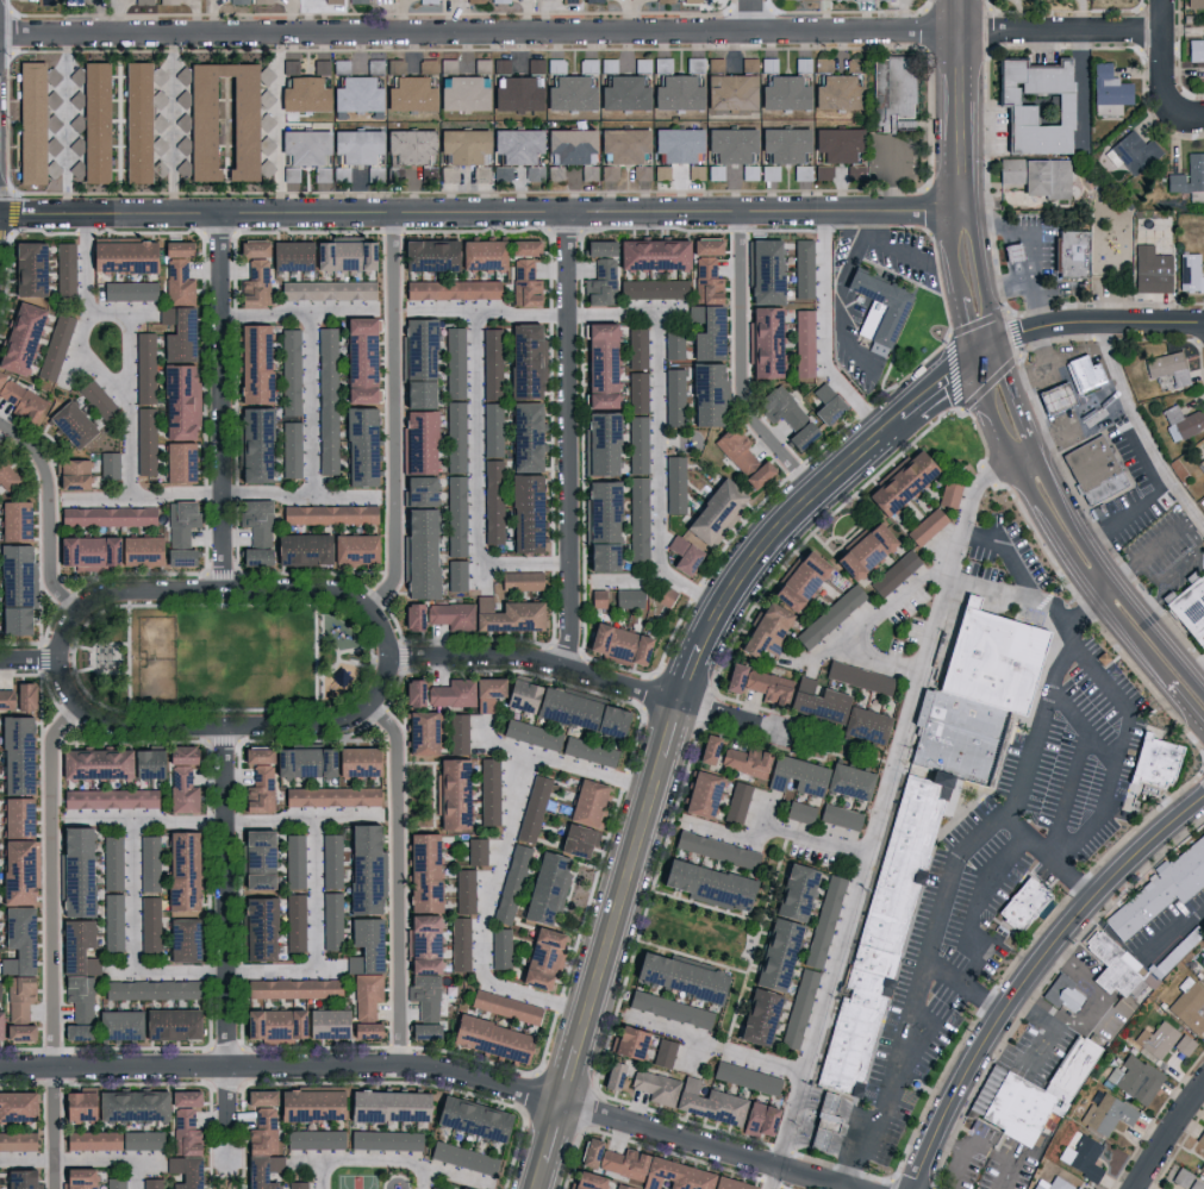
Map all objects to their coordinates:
building: (665, 0)
building: (691, 0)
building: (860, 0)
building: (73, 1)
building: (142, 1)
building: (168, 1)
building: (237, 1)
building: (262, 1)
building: (357, 1)
building: (428, 1)
building: (476, 1)
building: (501, 1)
building: (569, 1)
building: (1194, 4)
road: (754, 14)
road: (581, 30)
building: (1196, 50)
building: (767, 63)
building: (801, 63)
building: (822, 63)
building: (481, 64)
building: (500, 64)
building: (641, 64)
building: (661, 64)
building: (694, 64)
building: (715, 64)
building: (748, 64)
road: (1164, 64)
building: (339, 65)
building: (374, 65)
building: (394, 65)
building: (426, 65)
building: (447, 65)
building: (554, 65)
building: (586, 65)
building: (289, 67)
building: (320, 67)
building: (51, 75)
building: (156, 75)
building: (729, 90)
building: (1108, 90)
building: (461, 93)
building: (568, 93)
building: (622, 93)
building: (674, 93)
building: (781, 93)
building: (836, 93)
building: (302, 94)
building: (354, 94)
building: (407, 94)
building: (514, 94)
building: (51, 99)
building: (897, 99)
road: (961, 104)
building: (1035, 105)
road: (1194, 117)
building: (213, 118)
building: (92, 119)
building: (27, 121)
road: (65, 121)
building: (135, 121)
road: (173, 121)
building: (193, 121)
building: (158, 144)
building: (407, 144)
building: (623, 144)
building: (675, 144)
building: (729, 144)
building: (782, 144)
building: (836, 144)
building: (49, 145)
building: (354, 145)
building: (514, 145)
building: (569, 145)
building: (301, 146)
building: (461, 146)
building: (1134, 151)
parking lot: (897, 161)
building: (266, 169)
building: (748, 171)
building: (801, 171)
building: (823, 171)
building: (447, 173)
building: (501, 173)
building: (534, 173)
building: (554, 173)
building: (588, 173)
building: (609, 173)
building: (768, 173)
building: (291, 174)
building: (1189, 177)
road: (896, 179)
building: (1038, 187)
road: (480, 211)
road: (857, 221)
road: (1025, 232)
road: (953, 236)
building: (703, 246)
road: (975, 246)
building: (522, 248)
building: (597, 248)
building: (173, 249)
building: (250, 249)
building: (1011, 252)
building: (426, 255)
building: (480, 255)
building: (651, 255)
building: (120, 256)
building: (320, 256)
road: (849, 257)
building: (1078, 262)
building: (26, 268)
building: (64, 268)
building: (803, 268)
building: (1150, 270)
building: (762, 271)
building: (1190, 273)
road: (959, 279)
building: (705, 281)
building: (175, 282)
building: (523, 283)
building: (600, 283)
road: (1009, 283)
building: (254, 284)
building: (450, 289)
building: (653, 289)
building: (126, 290)
building: (326, 290)
road: (1037, 302)
building: (890, 311)
road: (123, 312)
road: (348, 313)
road: (480, 313)
road: (86, 317)
road: (990, 319)
road: (1122, 321)
road: (1040, 325)
road: (967, 326)
building: (705, 332)
building: (174, 333)
road: (1015, 333)
road: (824, 334)
building: (18, 337)
building: (763, 342)
building: (803, 343)
road: (1043, 343)
building: (673, 345)
building: (54, 346)
building: (417, 349)
building: (636, 349)
road: (1080, 349)
road: (987, 356)
building: (357, 361)
building: (523, 361)
building: (454, 362)
building: (491, 363)
road: (1003, 363)
building: (251, 364)
building: (598, 365)
building: (144, 367)
road: (743, 367)
building: (1167, 367)
road: (1029, 368)
building: (289, 373)
building: (1083, 376)
road: (1068, 389)
building: (637, 392)
road: (985, 393)
building: (413, 394)
building: (673, 396)
building: (705, 396)
building: (96, 399)
building: (1053, 399)
building: (19, 400)
road: (223, 400)
building: (326, 401)
building: (176, 403)
building: (825, 403)
road: (394, 413)
road: (1018, 413)
building: (786, 415)
building: (1181, 421)
building: (69, 424)
road: (1079, 425)
building: (491, 430)
road: (1140, 430)
road: (659, 433)
building: (455, 437)
building: (524, 437)
road: (567, 438)
building: (144, 440)
building: (417, 443)
road: (1003, 443)
building: (251, 444)
building: (599, 444)
building: (637, 444)
building: (357, 446)
building: (289, 449)
building: (1202, 450)
road: (1022, 456)
building: (741, 457)
building: (175, 463)
building: (108, 464)
building: (1202, 464)
building: (68, 475)
building: (1098, 476)
building: (5, 477)
road: (478, 482)
building: (674, 484)
building: (897, 484)
building: (416, 492)
building: (949, 493)
road: (263, 494)
road: (1152, 496)
road: (95, 497)
road: (350, 497)
building: (492, 501)
road: (49, 511)
building: (600, 511)
building: (523, 512)
building: (711, 512)
building: (327, 514)
building: (107, 515)
building: (455, 515)
building: (638, 519)
building: (13, 521)
building: (256, 521)
building: (180, 522)
building: (925, 527)
road: (1168, 539)
building: (351, 549)
building: (300, 550)
building: (862, 550)
building: (119, 552)
building: (417, 555)
building: (681, 555)
building: (251, 557)
building: (598, 557)
road: (1181, 564)
road: (1018, 570)
building: (894, 572)
building: (456, 575)
road: (1080, 576)
road: (617, 577)
road: (1105, 578)
road: (1119, 578)
building: (517, 581)
building: (796, 581)
building: (13, 590)
road: (993, 592)
building: (663, 595)
building: (598, 599)
building: (628, 599)
building: (1190, 608)
building: (484, 615)
building: (830, 615)
road: (874, 617)
building: (411, 618)
building: (762, 632)
building: (613, 644)
road: (388, 656)
park: (224, 657)
road: (537, 659)
road: (30, 664)
road: (1196, 667)
building: (857, 677)
building: (755, 684)
building: (975, 692)
building: (453, 694)
building: (15, 697)
building: (813, 701)
road: (1185, 701)
building: (564, 708)
road: (743, 721)
building: (863, 724)
road: (673, 726)
building: (419, 732)
road: (1080, 732)
building: (457, 733)
building: (531, 733)
building: (706, 747)
building: (588, 750)
road: (1029, 751)
building: (14, 755)
building: (1162, 758)
building: (354, 759)
building: (744, 759)
building: (119, 761)
road: (1118, 762)
road: (562, 765)
building: (279, 769)
building: (792, 774)
building: (848, 780)
building: (181, 788)
building: (488, 790)
building: (451, 791)
building: (699, 793)
road: (1068, 793)
building: (330, 795)
building: (107, 797)
building: (585, 800)
building: (736, 801)
building: (532, 807)
building: (798, 811)
building: (14, 815)
building: (840, 815)
road: (879, 818)
road: (148, 819)
road: (351, 819)
road: (780, 828)
building: (576, 838)
building: (715, 847)
building: (476, 850)
building: (254, 857)
building: (294, 859)
building: (330, 859)
building: (112, 862)
building: (149, 862)
building: (363, 865)
building: (179, 868)
building: (913, 869)
building: (14, 870)
building: (420, 870)
road: (399, 878)
building: (705, 882)
building: (510, 883)
building: (545, 884)
building: (464, 890)
building: (793, 890)
building: (1165, 893)
road: (135, 895)
road: (316, 896)
road: (229, 897)
building: (1029, 910)
road: (973, 914)
building: (330, 919)
road: (482, 920)
building: (824, 920)
building: (113, 921)
building: (294, 921)
building: (149, 922)
building: (257, 926)
road: (935, 927)
road: (1177, 934)
building: (17, 938)
building: (181, 938)
road: (54, 941)
building: (420, 941)
building: (460, 943)
building: (363, 944)
building: (76, 947)
building: (499, 947)
building: (543, 950)
building: (775, 952)
building: (1119, 965)
building: (1202, 968)
road: (320, 970)
road: (171, 971)
road: (1029, 971)
building: (676, 975)
building: (530, 977)
building: (293, 987)
building: (149, 989)
road: (1103, 990)
building: (424, 994)
building: (364, 995)
building: (1068, 995)
building: (18, 996)
building: (77, 996)
building: (1189, 1005)
building: (504, 1006)
building: (799, 1007)
building: (668, 1008)
building: (756, 1015)
building: (148, 1022)
building: (304, 1022)
road: (930, 1022)
building: (422, 1030)
building: (15, 1031)
building: (74, 1031)
building: (489, 1038)
building: (626, 1040)
building: (1159, 1040)
building: (1184, 1044)
parking lot: (1038, 1045)
road: (1046, 1045)
road: (720, 1051)
building: (663, 1052)
building: (1080, 1064)
road: (436, 1068)
building: (612, 1074)
building: (1135, 1078)
road: (891, 1081)
building: (988, 1088)
building: (1054, 1093)
building: (687, 1095)
building: (181, 1096)
building: (15, 1103)
building: (74, 1103)
building: (130, 1103)
building: (385, 1104)
building: (1021, 1107)
building: (286, 1112)
building: (1110, 1114)
road: (227, 1118)
building: (470, 1118)
building: (757, 1118)
building: (832, 1120)
building: (819, 1129)
building: (185, 1131)
road: (1166, 1134)
building: (1200, 1137)
building: (312, 1138)
building: (111, 1139)
building: (383, 1139)
building: (15, 1140)
road: (986, 1149)
building: (587, 1151)
building: (1083, 1156)
building: (461, 1157)
road: (394, 1159)
road: (81, 1160)
parking lot: (990, 1160)
building: (273, 1162)
building: (1202, 1166)
road: (953, 1168)
building: (182, 1171)
building: (255, 1172)
building: (663, 1172)
road: (323, 1174)
road: (139, 1175)
building: (75, 1177)
road: (429, 1177)
building: (1181, 1177)
building: (18, 1178)
building: (582, 1179)
building: (114, 1182)
building: (151, 1183)
park: (361, 1183)
building: (1050, 1183)
building: (298, 1184)
building: (1194, 1184)
building: (620, 1185)
building: (432, 1188)
building: (458, 1188)
building: (1077, 1188)

